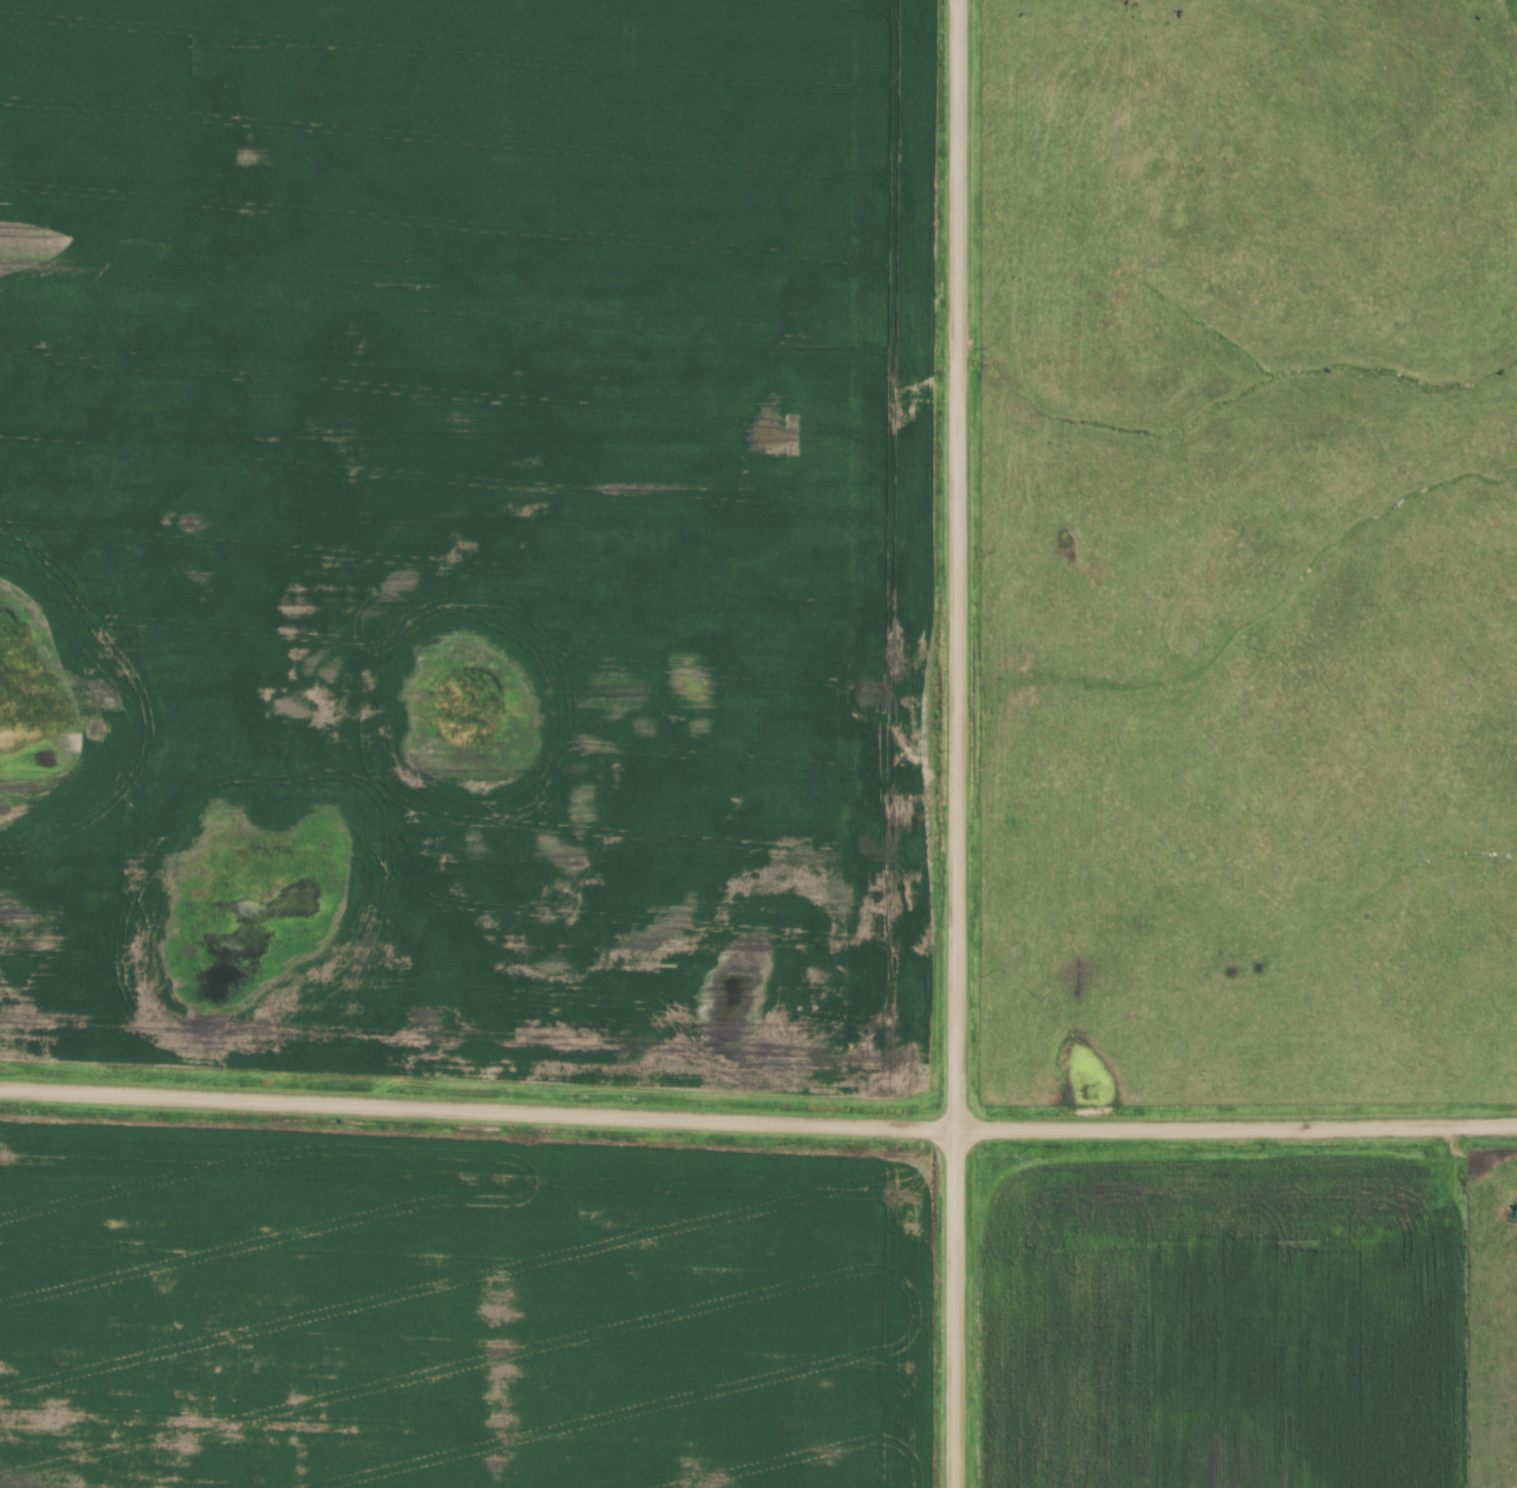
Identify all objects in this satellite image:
road: (957, 744)
road: (758, 1120)

